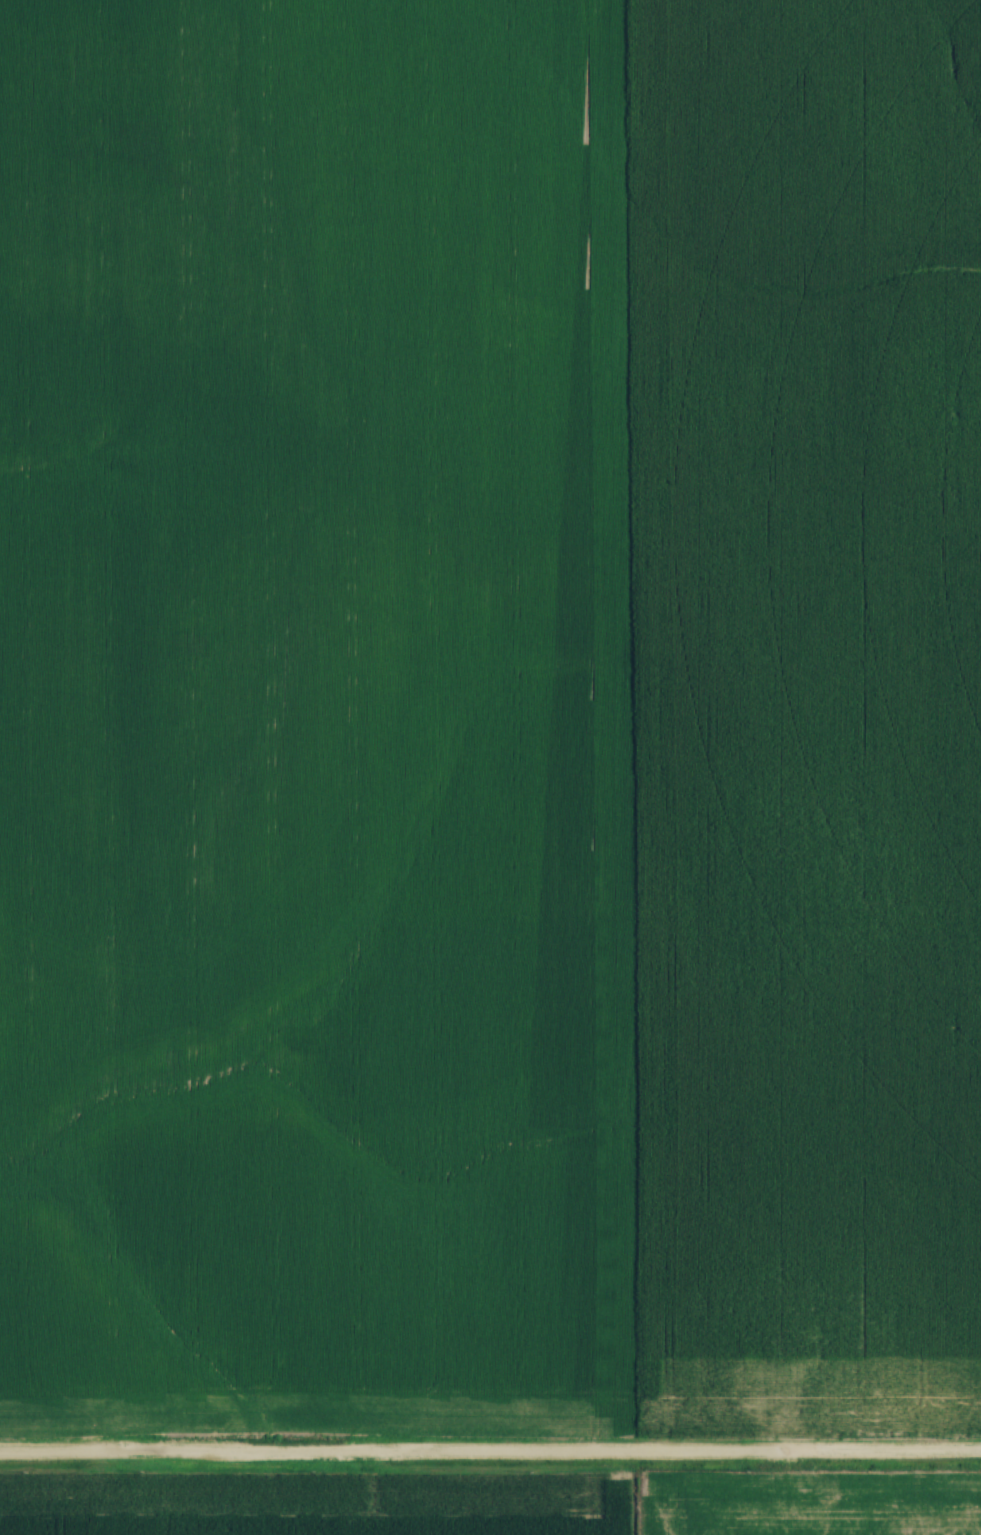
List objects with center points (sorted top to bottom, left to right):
road: (490, 1457)

